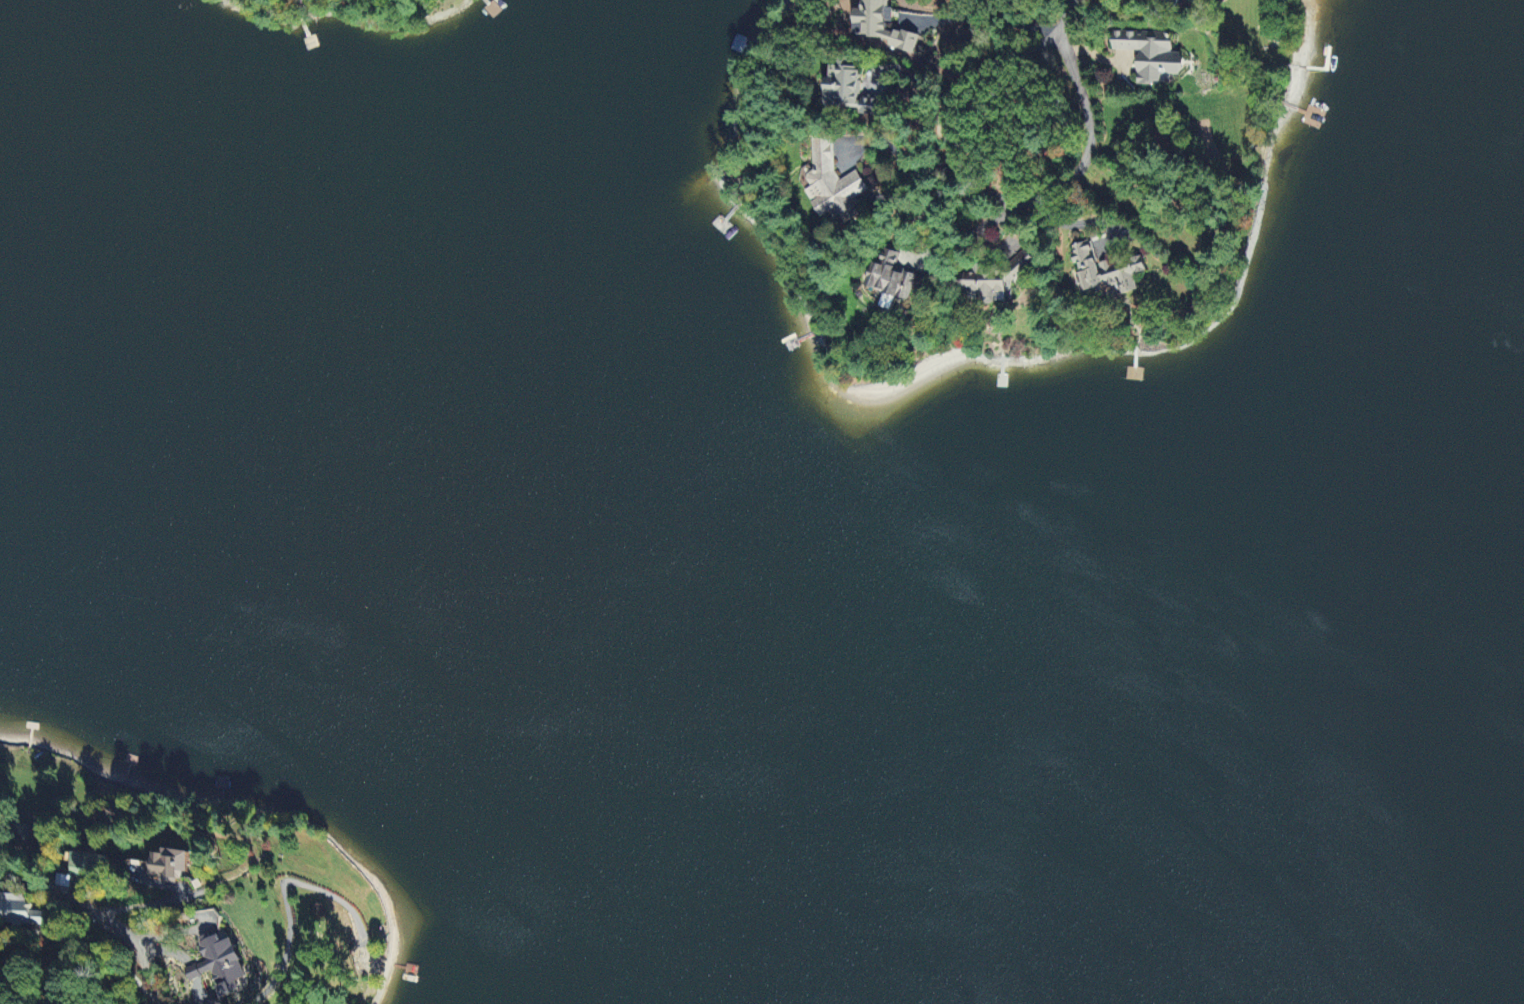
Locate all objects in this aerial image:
road: (1067, 23)
building: (881, 26)
building: (1151, 56)
building: (842, 88)
building: (868, 107)
building: (831, 185)
road: (988, 195)
building: (1105, 273)
building: (889, 278)
river: (720, 555)
building: (168, 866)
building: (24, 913)
road: (72, 941)
building: (218, 967)

